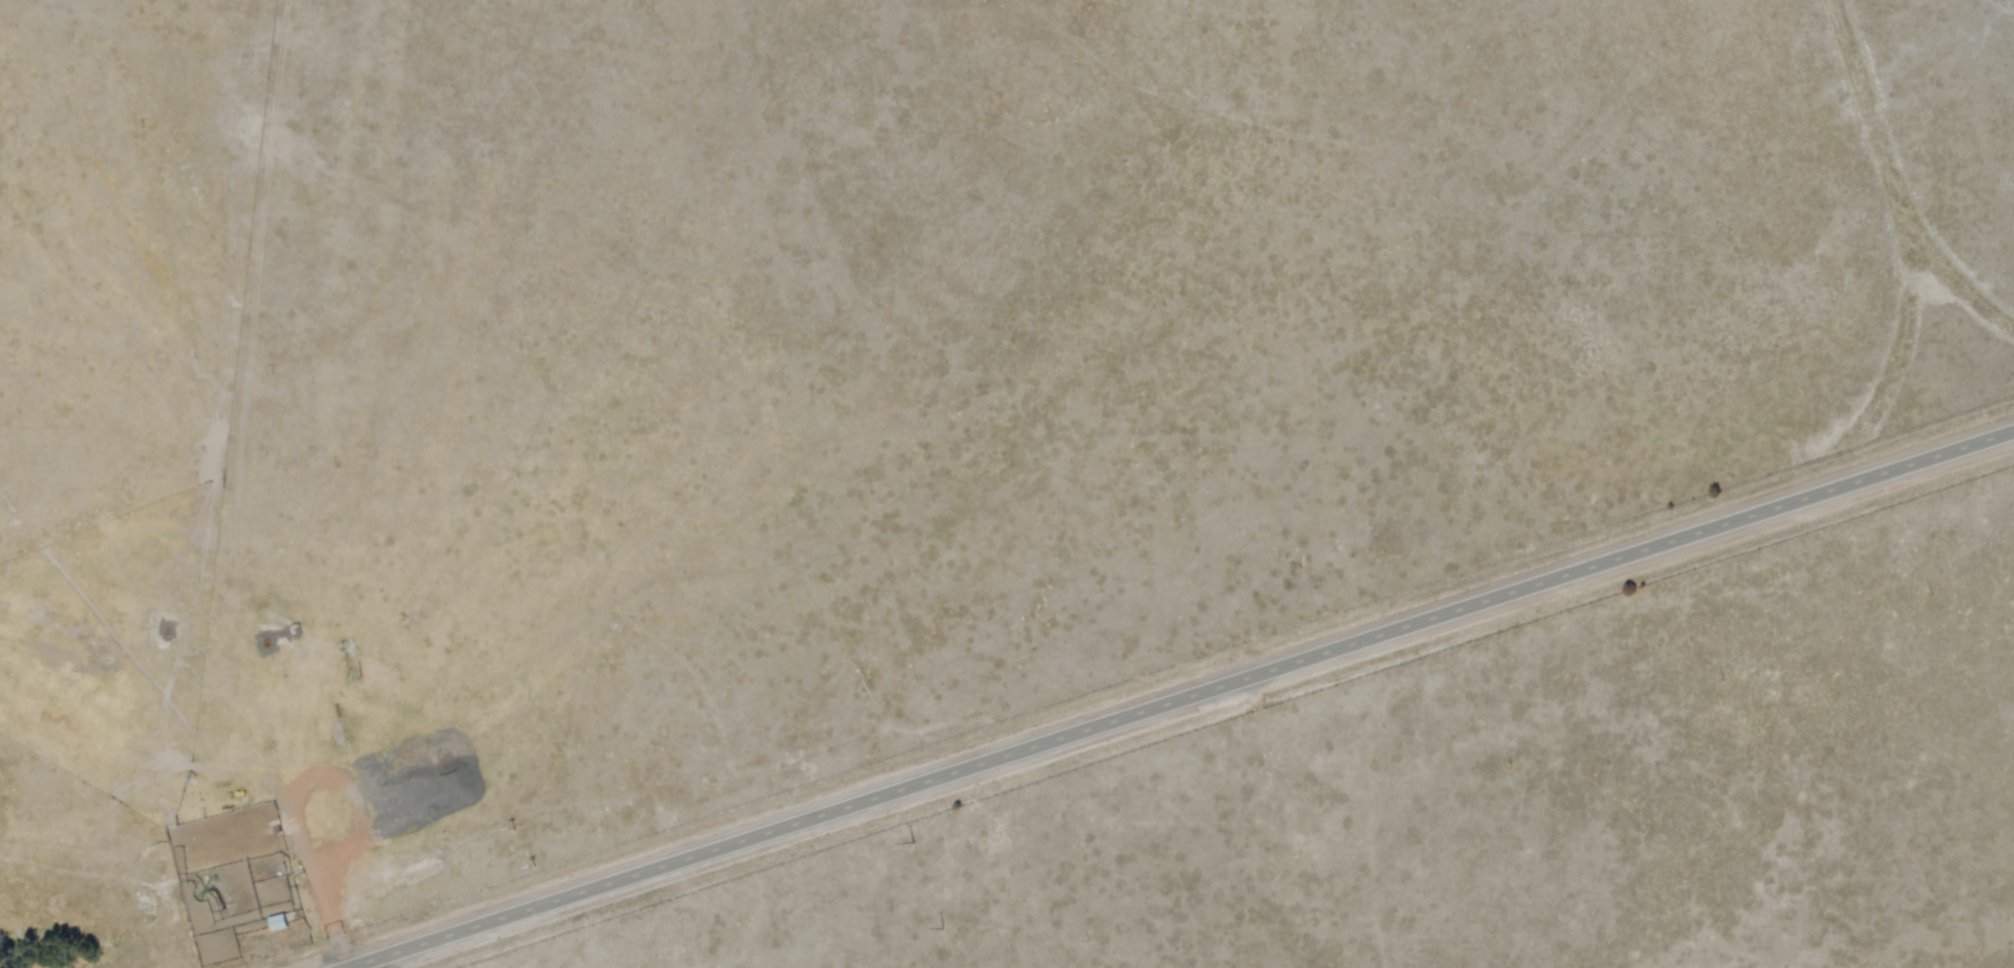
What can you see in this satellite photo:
road: (1182, 699)
building: (277, 922)
road: (360, 966)

